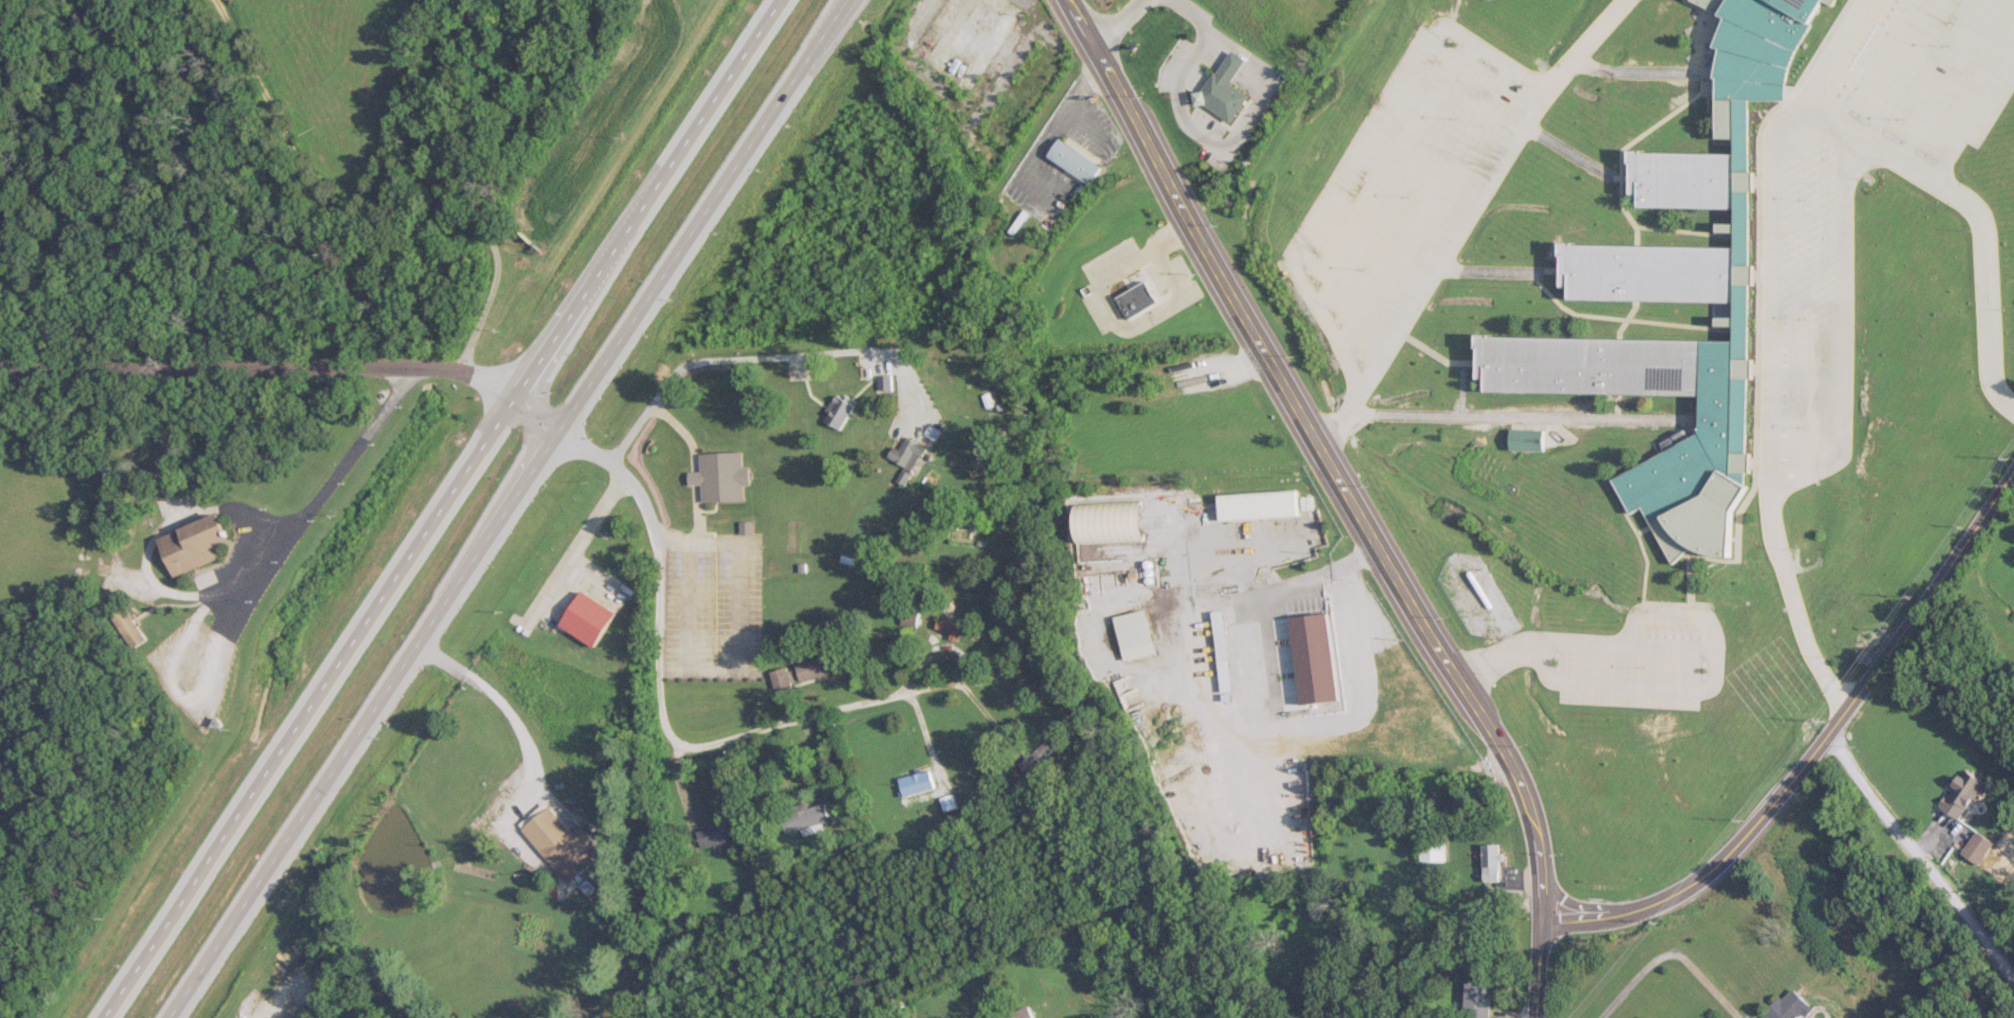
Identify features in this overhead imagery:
road: (1194, 15)
road: (1116, 23)
road: (1077, 95)
road: (1974, 112)
road: (1228, 143)
road: (1365, 153)
building: (1078, 160)
road: (1976, 211)
road: (366, 213)
road: (1465, 215)
building: (1674, 296)
road: (1770, 347)
road: (731, 360)
road: (260, 366)
building: (889, 381)
building: (840, 411)
road: (537, 415)
road: (1505, 416)
building: (907, 452)
building: (723, 477)
road: (312, 478)
road: (1352, 495)
building: (1261, 505)
road: (507, 508)
road: (442, 509)
road: (597, 517)
building: (1112, 522)
building: (195, 544)
building: (959, 628)
building: (1137, 635)
building: (1222, 642)
road: (1705, 649)
building: (817, 668)
building: (781, 678)
building: (1285, 685)
road: (497, 700)
road: (700, 746)
road: (1817, 746)
building: (825, 770)
building: (916, 780)
building: (1959, 796)
building: (803, 819)
building: (716, 836)
building: (563, 843)
building: (1974, 848)
building: (1432, 851)
road: (1921, 854)
building: (1491, 863)
road: (1670, 954)
building: (1476, 999)
building: (1785, 1006)
road: (282, 1009)
building: (294, 1011)
building: (1022, 1013)

